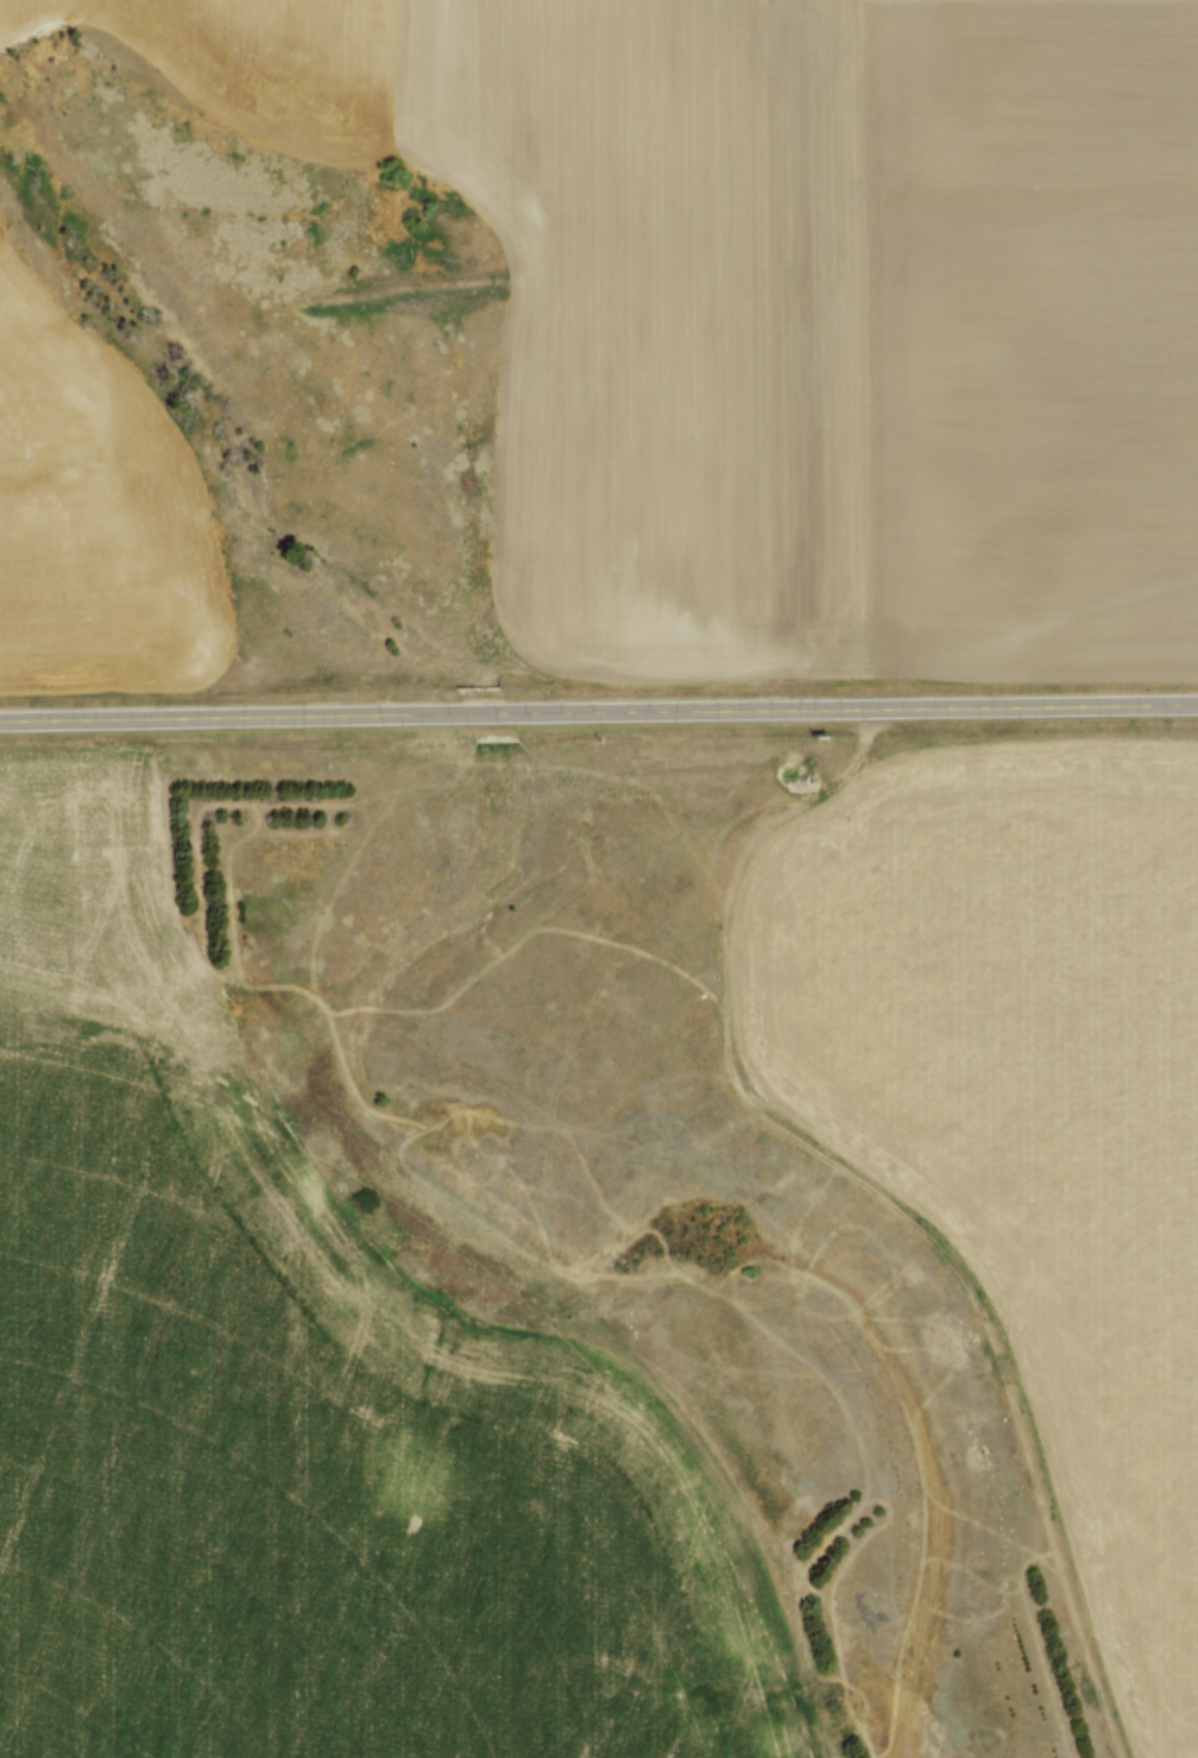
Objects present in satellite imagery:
crop: (797, 307)
crop: (96, 517)
road: (598, 713)
crop: (1022, 1101)
crop: (304, 1406)

